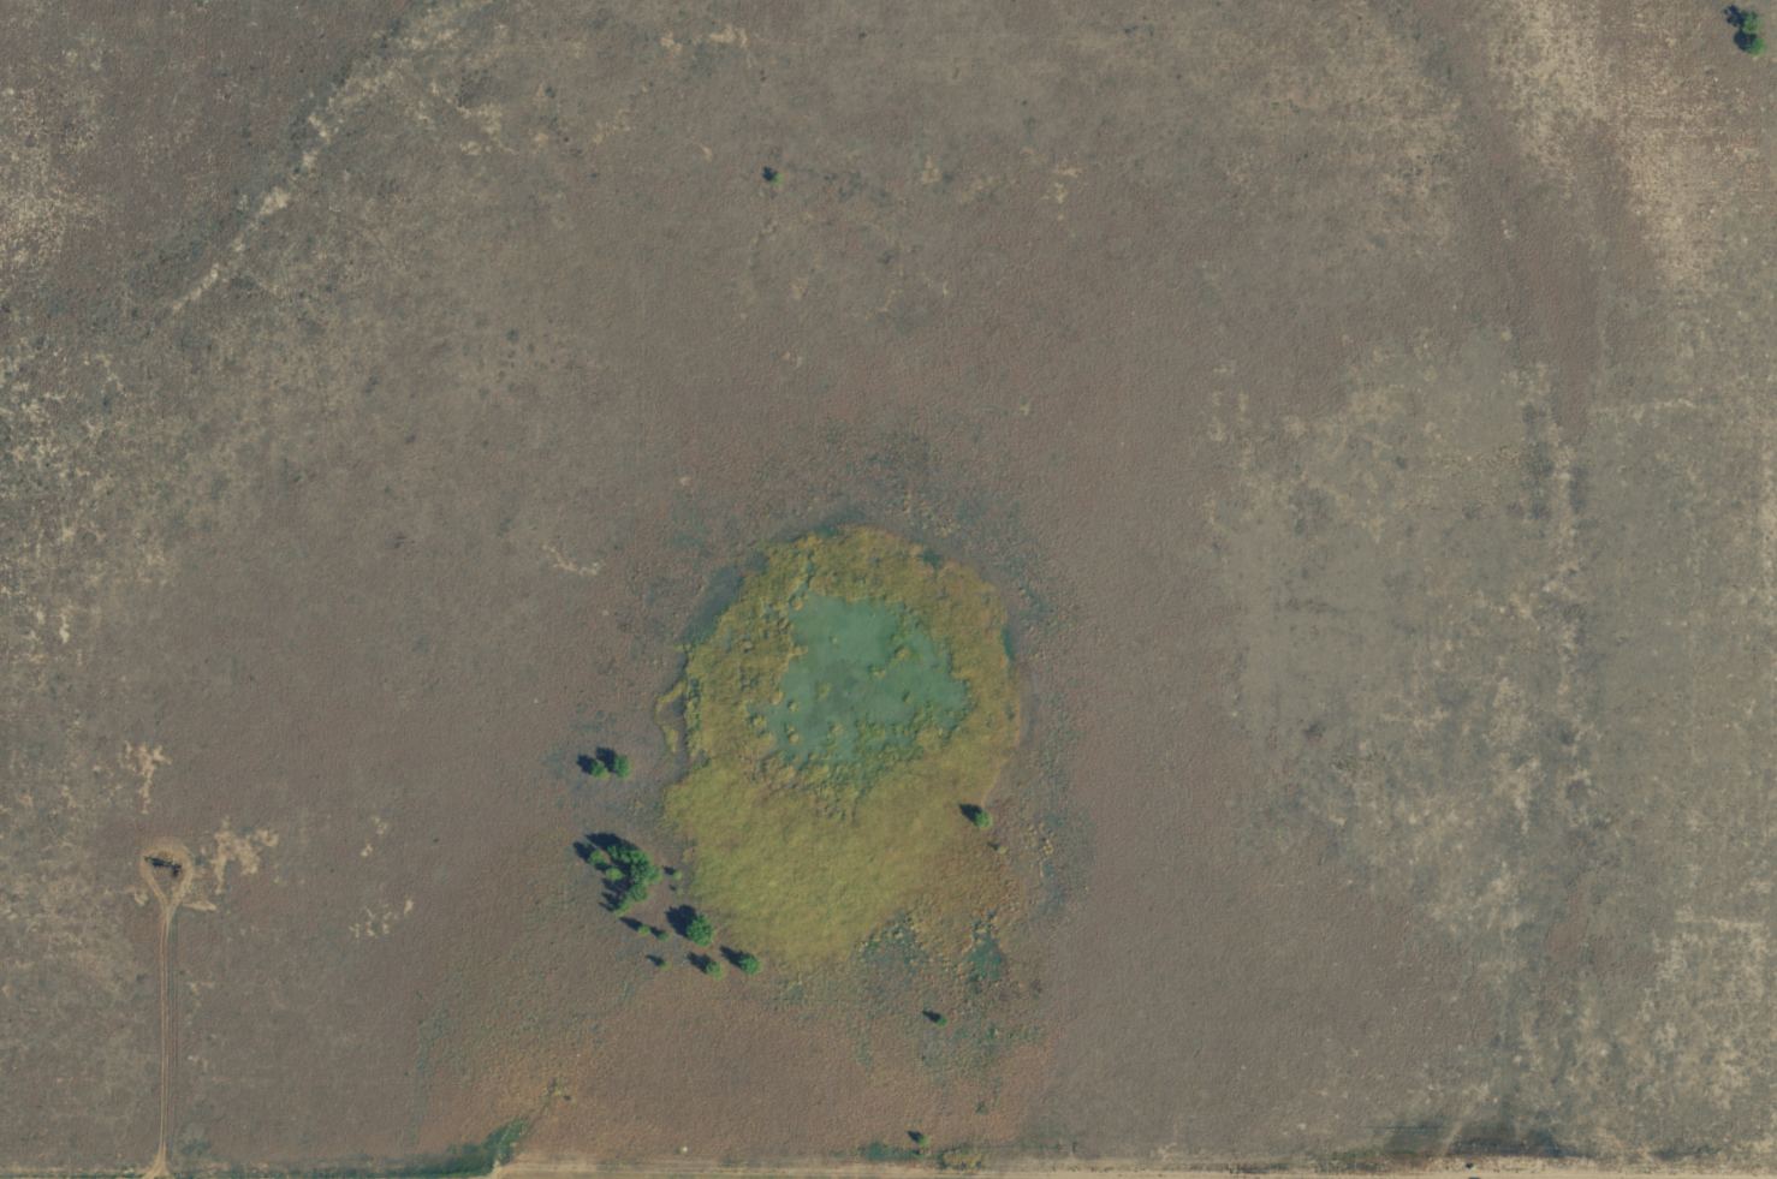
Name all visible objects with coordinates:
petroleum well: (172, 870)

